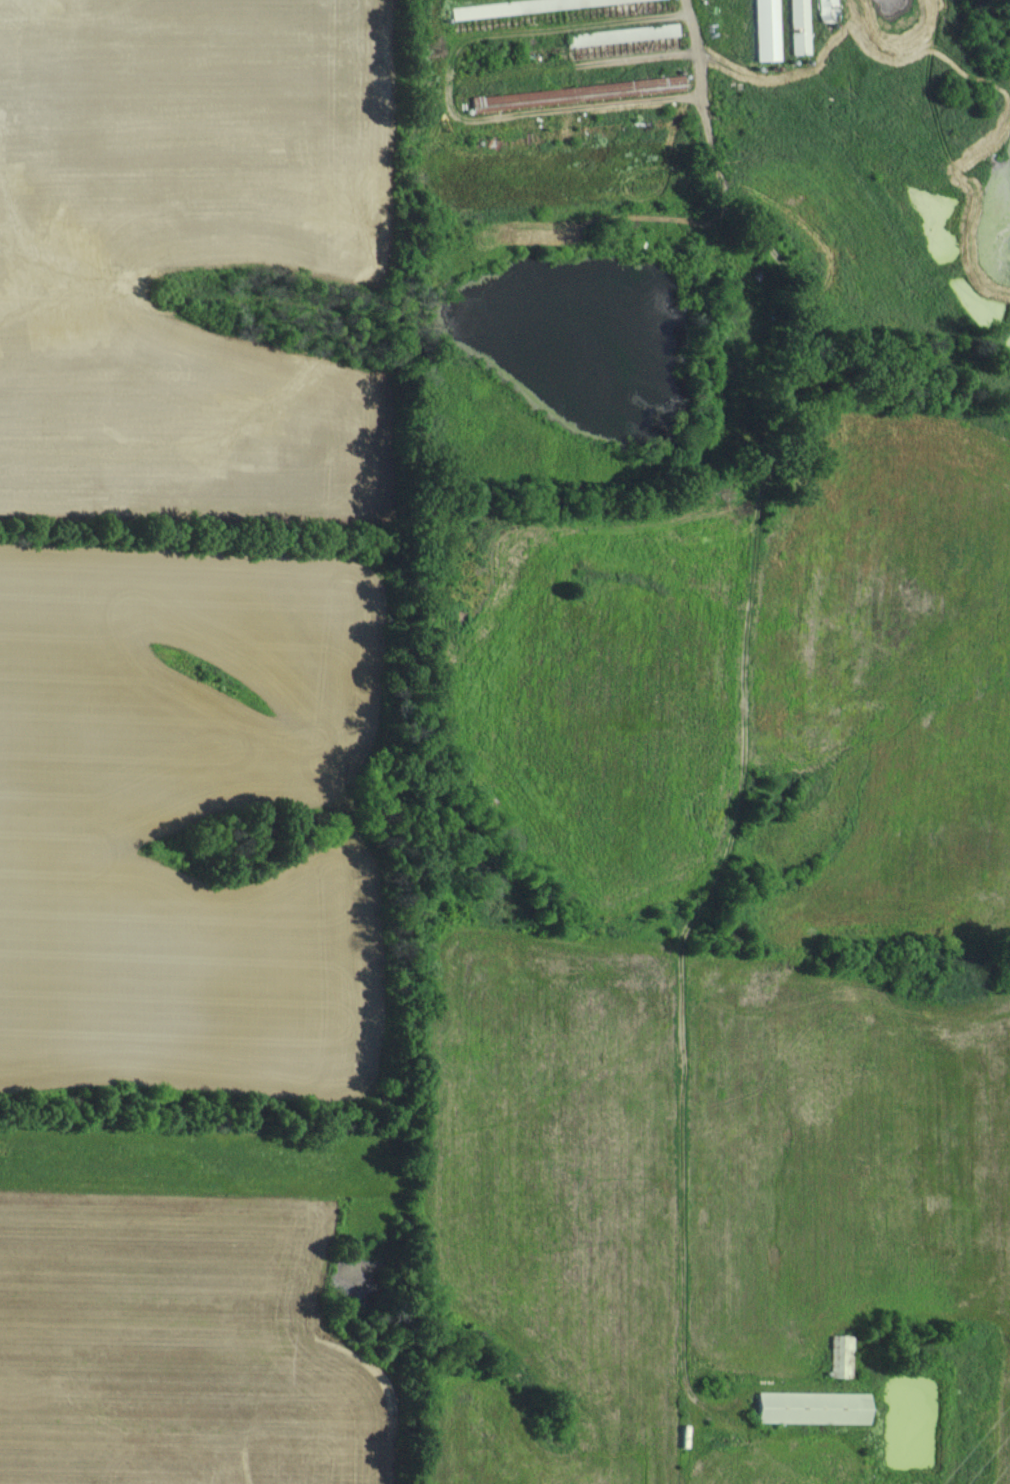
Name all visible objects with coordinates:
building: (825, 8)
building: (798, 26)
building: (766, 29)
building: (841, 1355)
building: (812, 1407)

